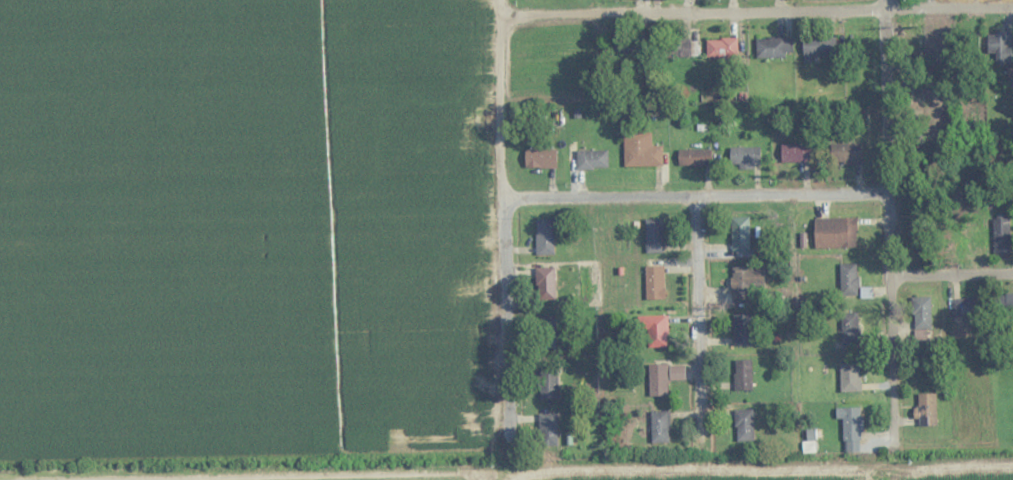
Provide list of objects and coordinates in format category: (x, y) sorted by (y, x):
road: (757, 11)
building: (819, 46)
building: (675, 48)
building: (722, 48)
building: (773, 48)
building: (1000, 48)
building: (640, 151)
building: (795, 153)
building: (845, 153)
building: (745, 157)
building: (540, 158)
building: (694, 158)
building: (592, 159)
road: (698, 199)
road: (507, 220)
building: (834, 233)
building: (740, 234)
road: (890, 234)
building: (654, 236)
building: (915, 236)
building: (1001, 236)
building: (544, 237)
building: (975, 239)
road: (951, 273)
building: (848, 279)
building: (655, 282)
building: (744, 282)
building: (545, 283)
building: (1007, 304)
building: (969, 306)
building: (921, 316)
building: (849, 327)
building: (743, 330)
building: (656, 331)
building: (547, 332)
road: (700, 335)
building: (743, 374)
building: (849, 377)
building: (659, 381)
building: (548, 382)
building: (926, 409)
building: (744, 425)
building: (659, 427)
building: (851, 428)
building: (547, 430)
road: (520, 475)
road: (503, 477)

